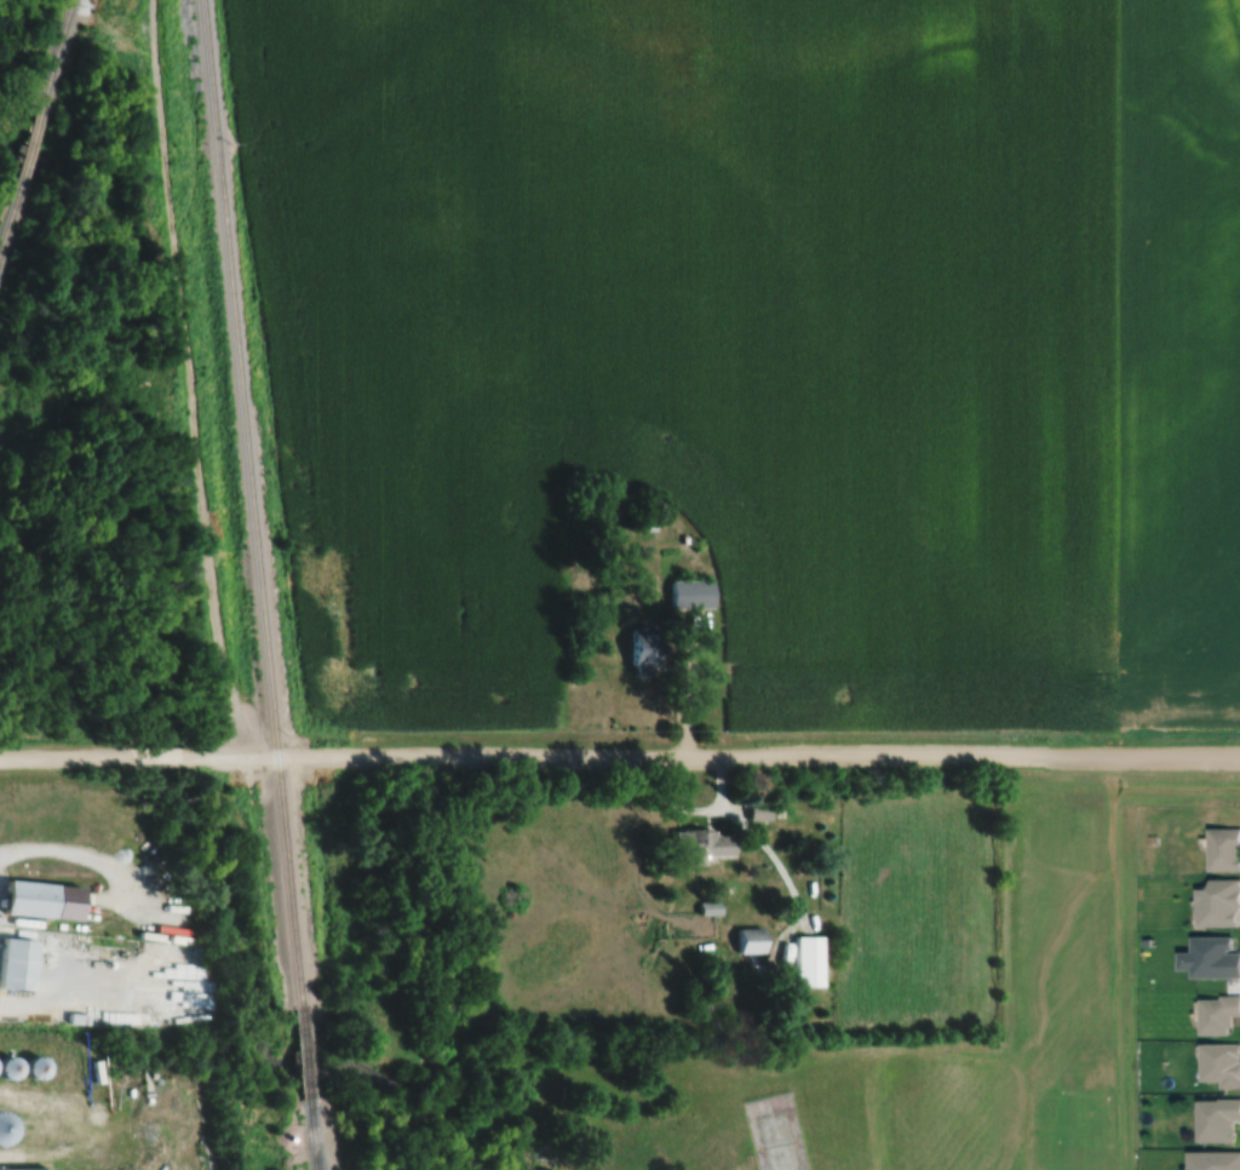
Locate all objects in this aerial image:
railway: (58, 59)
railway: (33, 154)
railway: (11, 225)
river: (144, 296)
crop: (696, 342)
crop: (1172, 360)
railway: (247, 507)
building: (690, 593)
building: (642, 648)
road: (69, 753)
road: (161, 756)
road: (711, 758)
road: (696, 810)
building: (758, 813)
building: (706, 844)
building: (1224, 850)
road: (773, 858)
river: (201, 887)
building: (41, 896)
building: (1219, 905)
building: (748, 940)
building: (806, 959)
building: (16, 960)
building: (1218, 1014)
railway: (306, 1059)
building: (1218, 1119)
park: (771, 1132)
building: (2, 1134)
railway: (314, 1135)
railway: (317, 1163)
building: (24, 1169)

